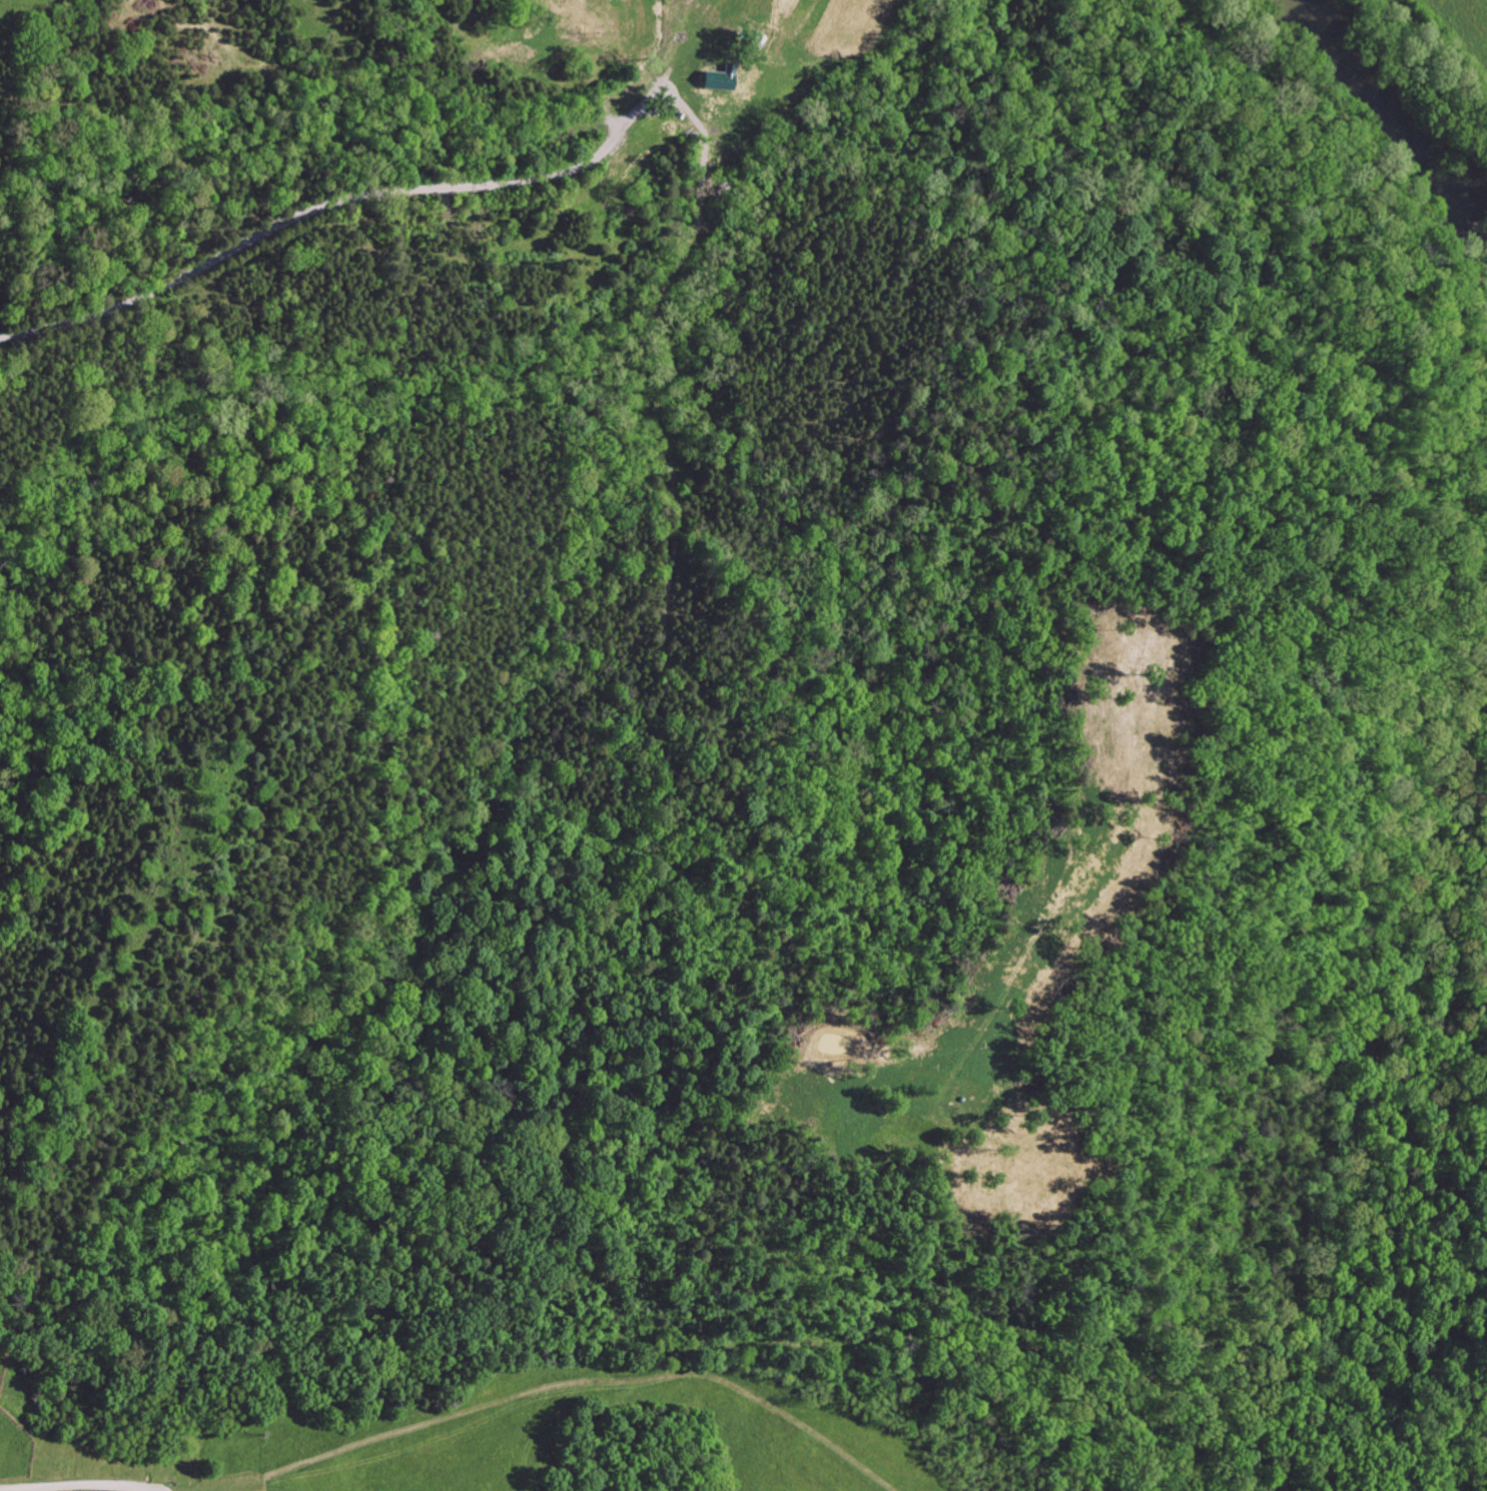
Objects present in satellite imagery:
building: (723, 82)
river: (1393, 118)
road: (320, 210)
road: (75, 1483)

